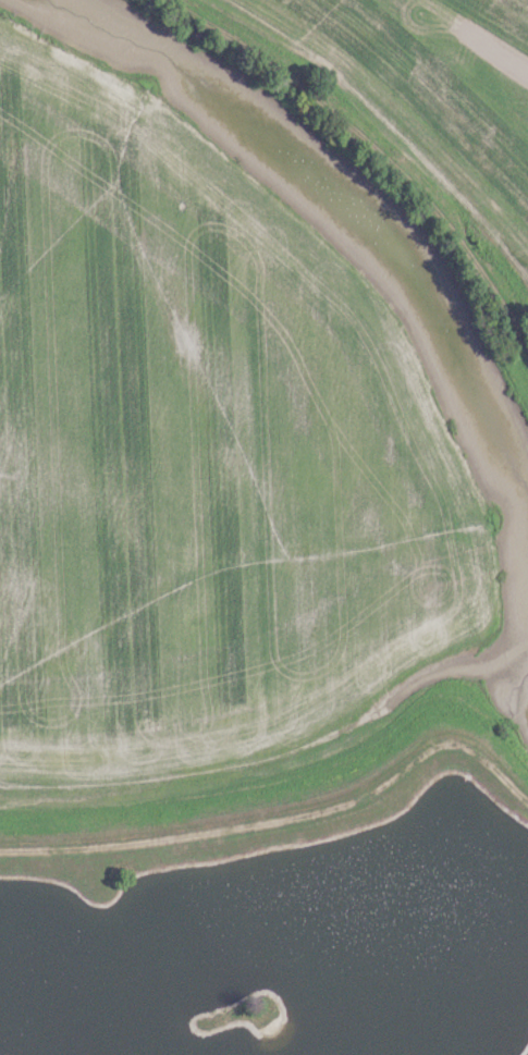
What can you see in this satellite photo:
road: (409, 86)

